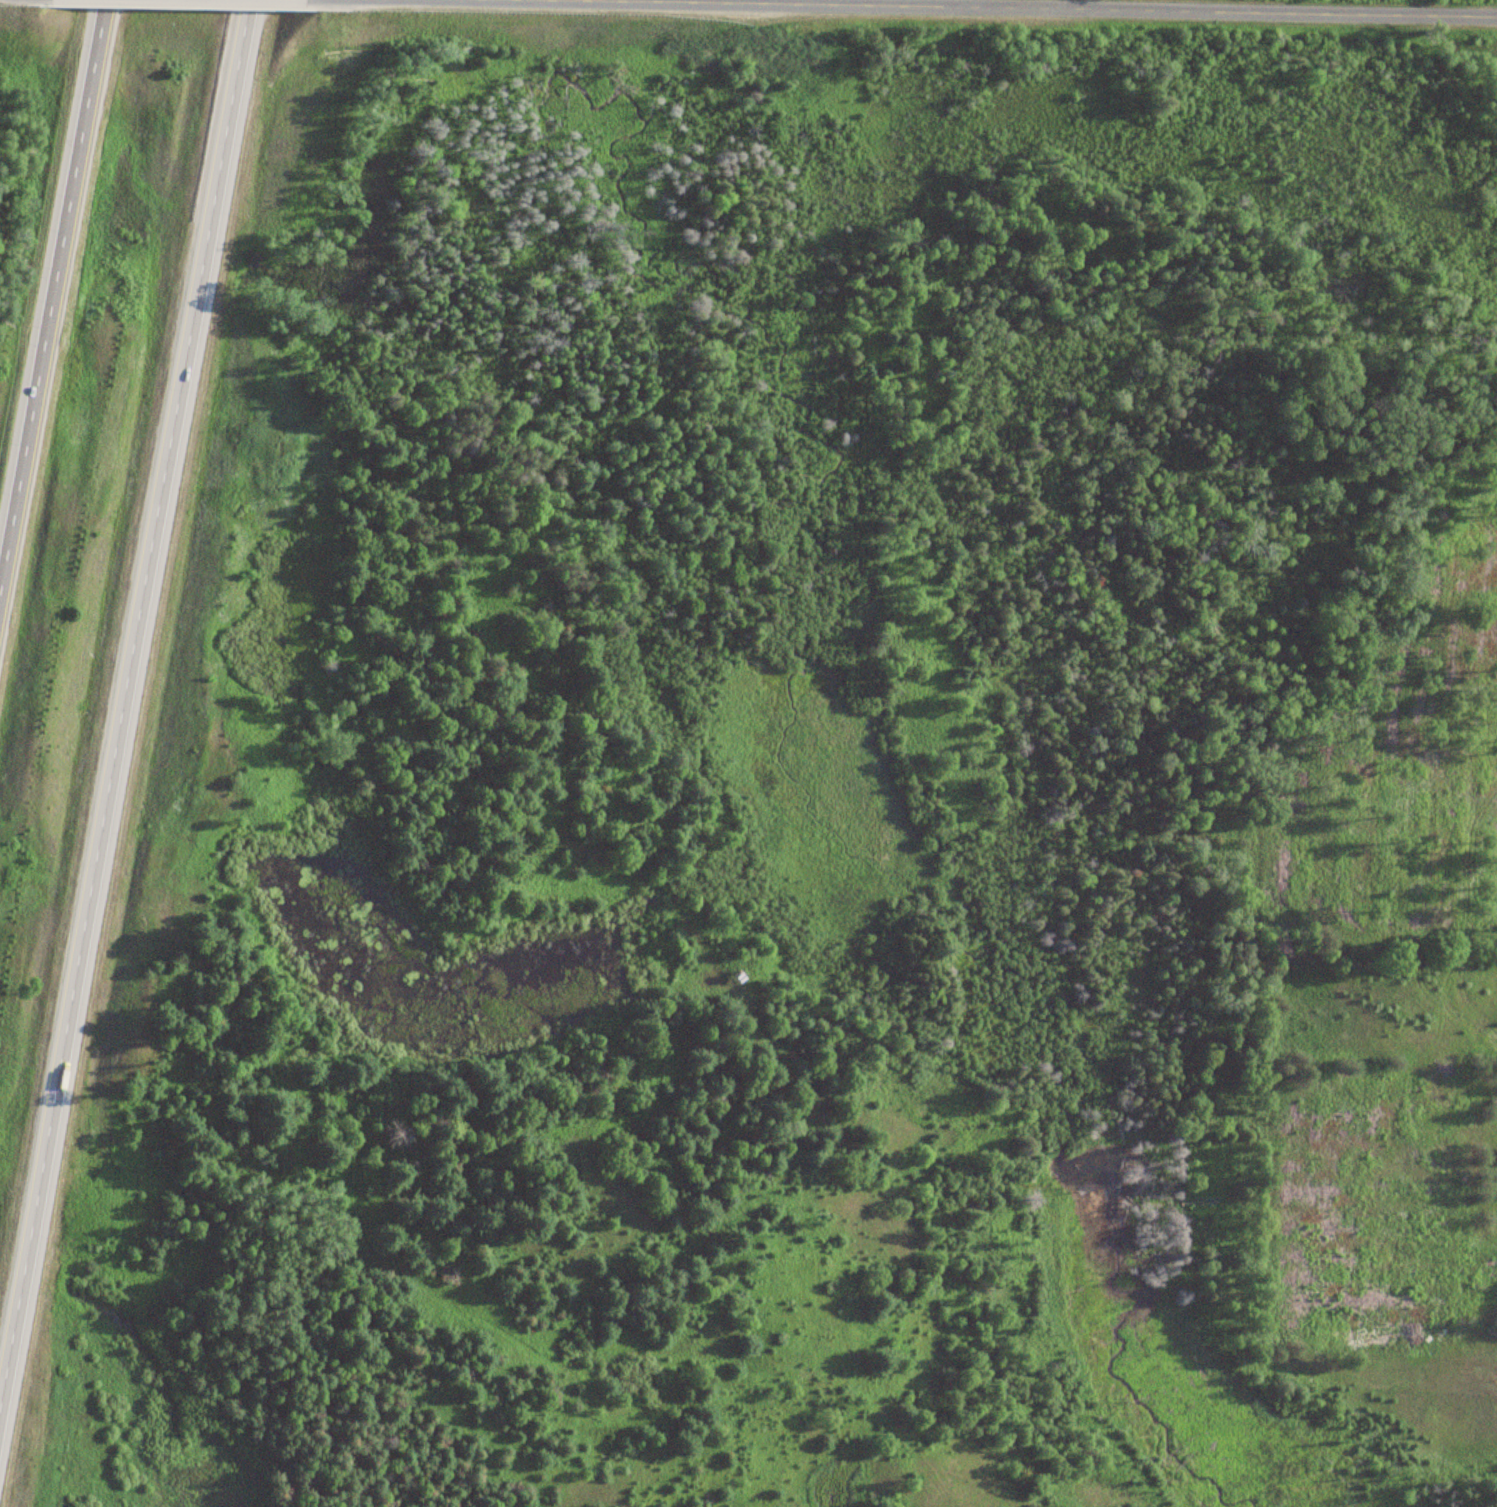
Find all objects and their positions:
road: (933, 8)
road: (51, 293)
road: (120, 698)

